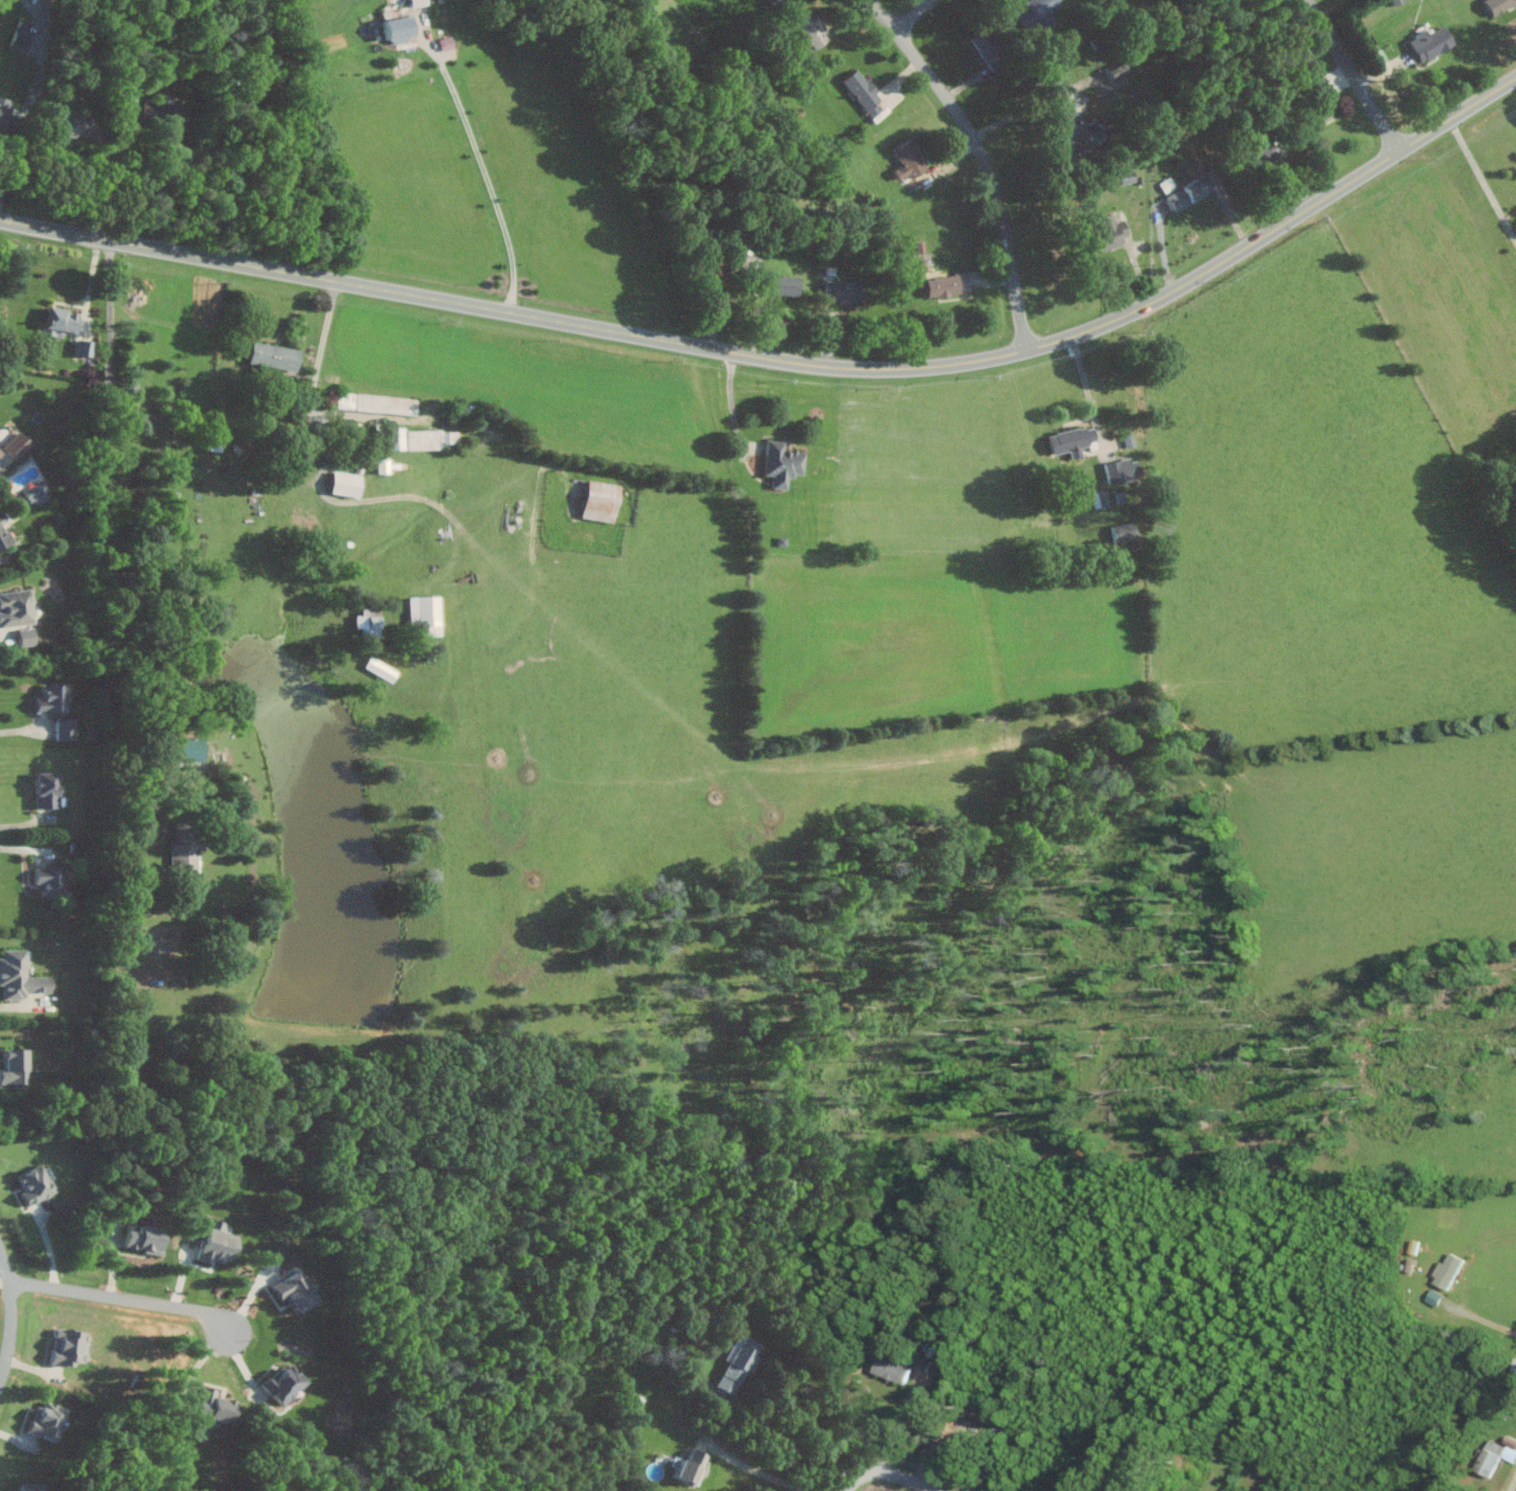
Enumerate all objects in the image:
building: (420, 2)
building: (1500, 4)
building: (1040, 12)
road: (915, 16)
building: (1513, 18)
building: (813, 28)
building: (22, 39)
building: (1433, 43)
building: (992, 49)
building: (1119, 68)
road: (1356, 75)
building: (865, 91)
road: (1024, 106)
building: (164, 111)
building: (8, 119)
building: (75, 126)
building: (1095, 134)
building: (1076, 148)
building: (912, 158)
road: (986, 158)
road: (126, 174)
road: (1483, 175)
road: (487, 180)
road: (104, 186)
building: (1194, 190)
building: (1114, 231)
road: (91, 284)
building: (946, 284)
building: (789, 285)
building: (845, 290)
road: (756, 299)
building: (65, 321)
road: (328, 330)
building: (86, 347)
building: (277, 356)
road: (788, 360)
road: (1089, 388)
road: (733, 400)
building: (380, 403)
building: (401, 438)
building: (433, 439)
building: (1075, 441)
building: (20, 444)
building: (1, 452)
building: (786, 463)
road: (3, 464)
building: (389, 465)
building: (1125, 469)
building: (349, 484)
building: (38, 493)
building: (1102, 498)
building: (604, 501)
building: (1127, 531)
building: (5, 532)
road: (114, 564)
building: (17, 608)
building: (428, 615)
building: (371, 623)
building: (29, 636)
building: (382, 668)
building: (55, 699)
road: (26, 728)
building: (68, 729)
building: (50, 788)
road: (25, 823)
building: (188, 846)
road: (26, 849)
building: (53, 880)
building: (21, 974)
road: (24, 1006)
building: (17, 1066)
building: (38, 1183)
building: (148, 1237)
building: (220, 1242)
building: (1414, 1245)
building: (1450, 1270)
building: (296, 1290)
building: (1435, 1296)
road: (127, 1298)
road: (13, 1316)
road: (1480, 1319)
building: (72, 1345)
building: (740, 1362)
building: (892, 1369)
building: (287, 1382)
building: (218, 1406)
road: (724, 1408)
building: (49, 1419)
road: (896, 1422)
building: (964, 1441)
building: (1493, 1457)
building: (695, 1465)
road: (885, 1467)
road: (1510, 1480)
building: (33, 1486)

